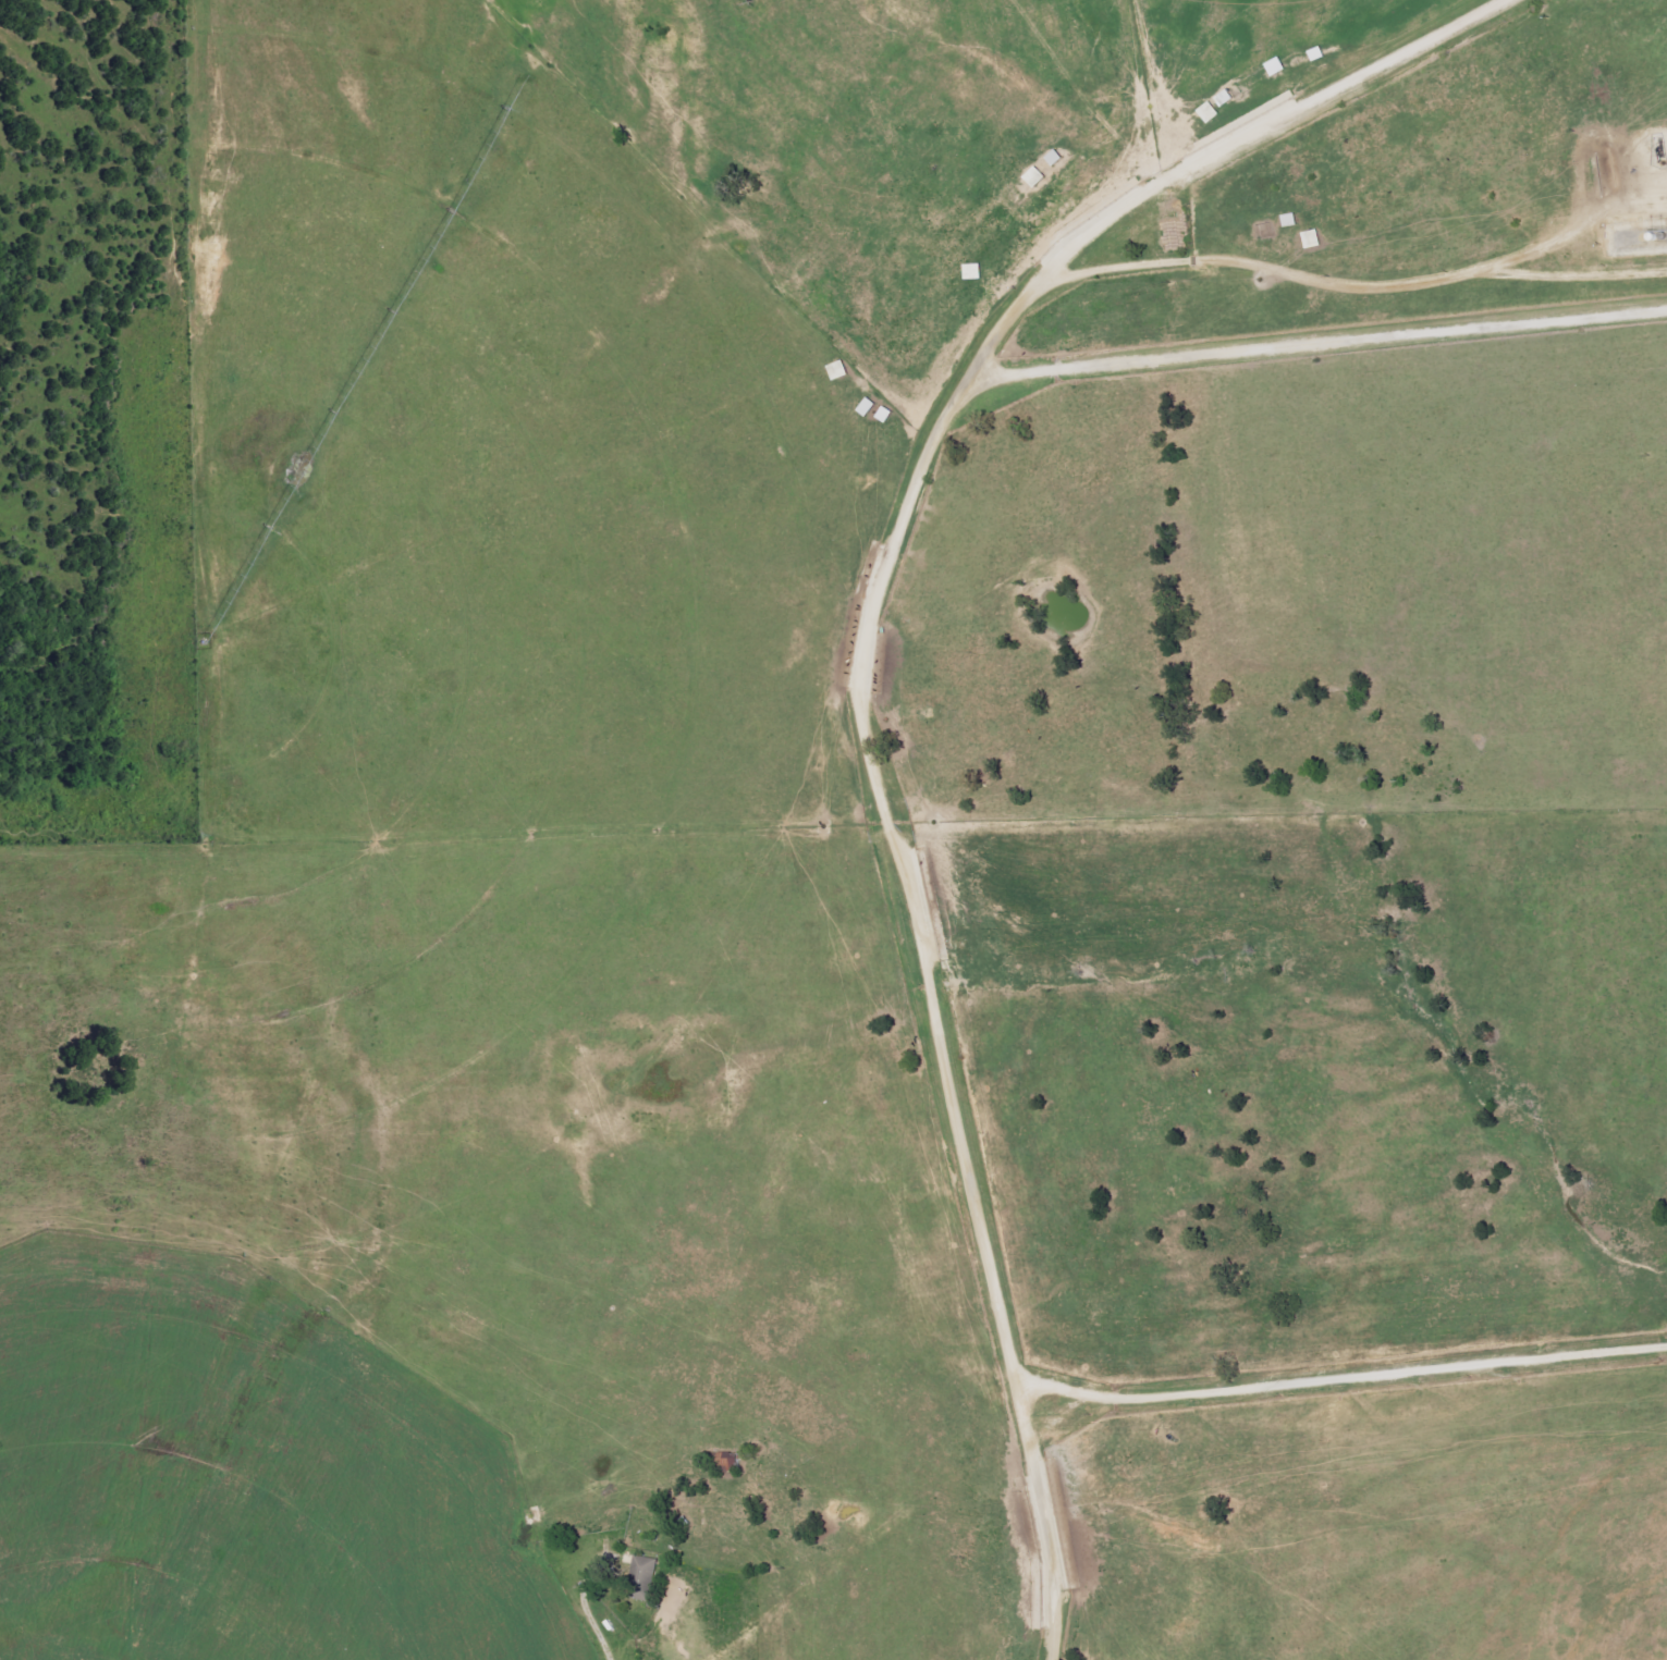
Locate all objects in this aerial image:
road: (885, 564)
road: (1378, 1363)
road: (1051, 1374)
road: (1057, 1401)
road: (1050, 1538)
building: (642, 1579)

